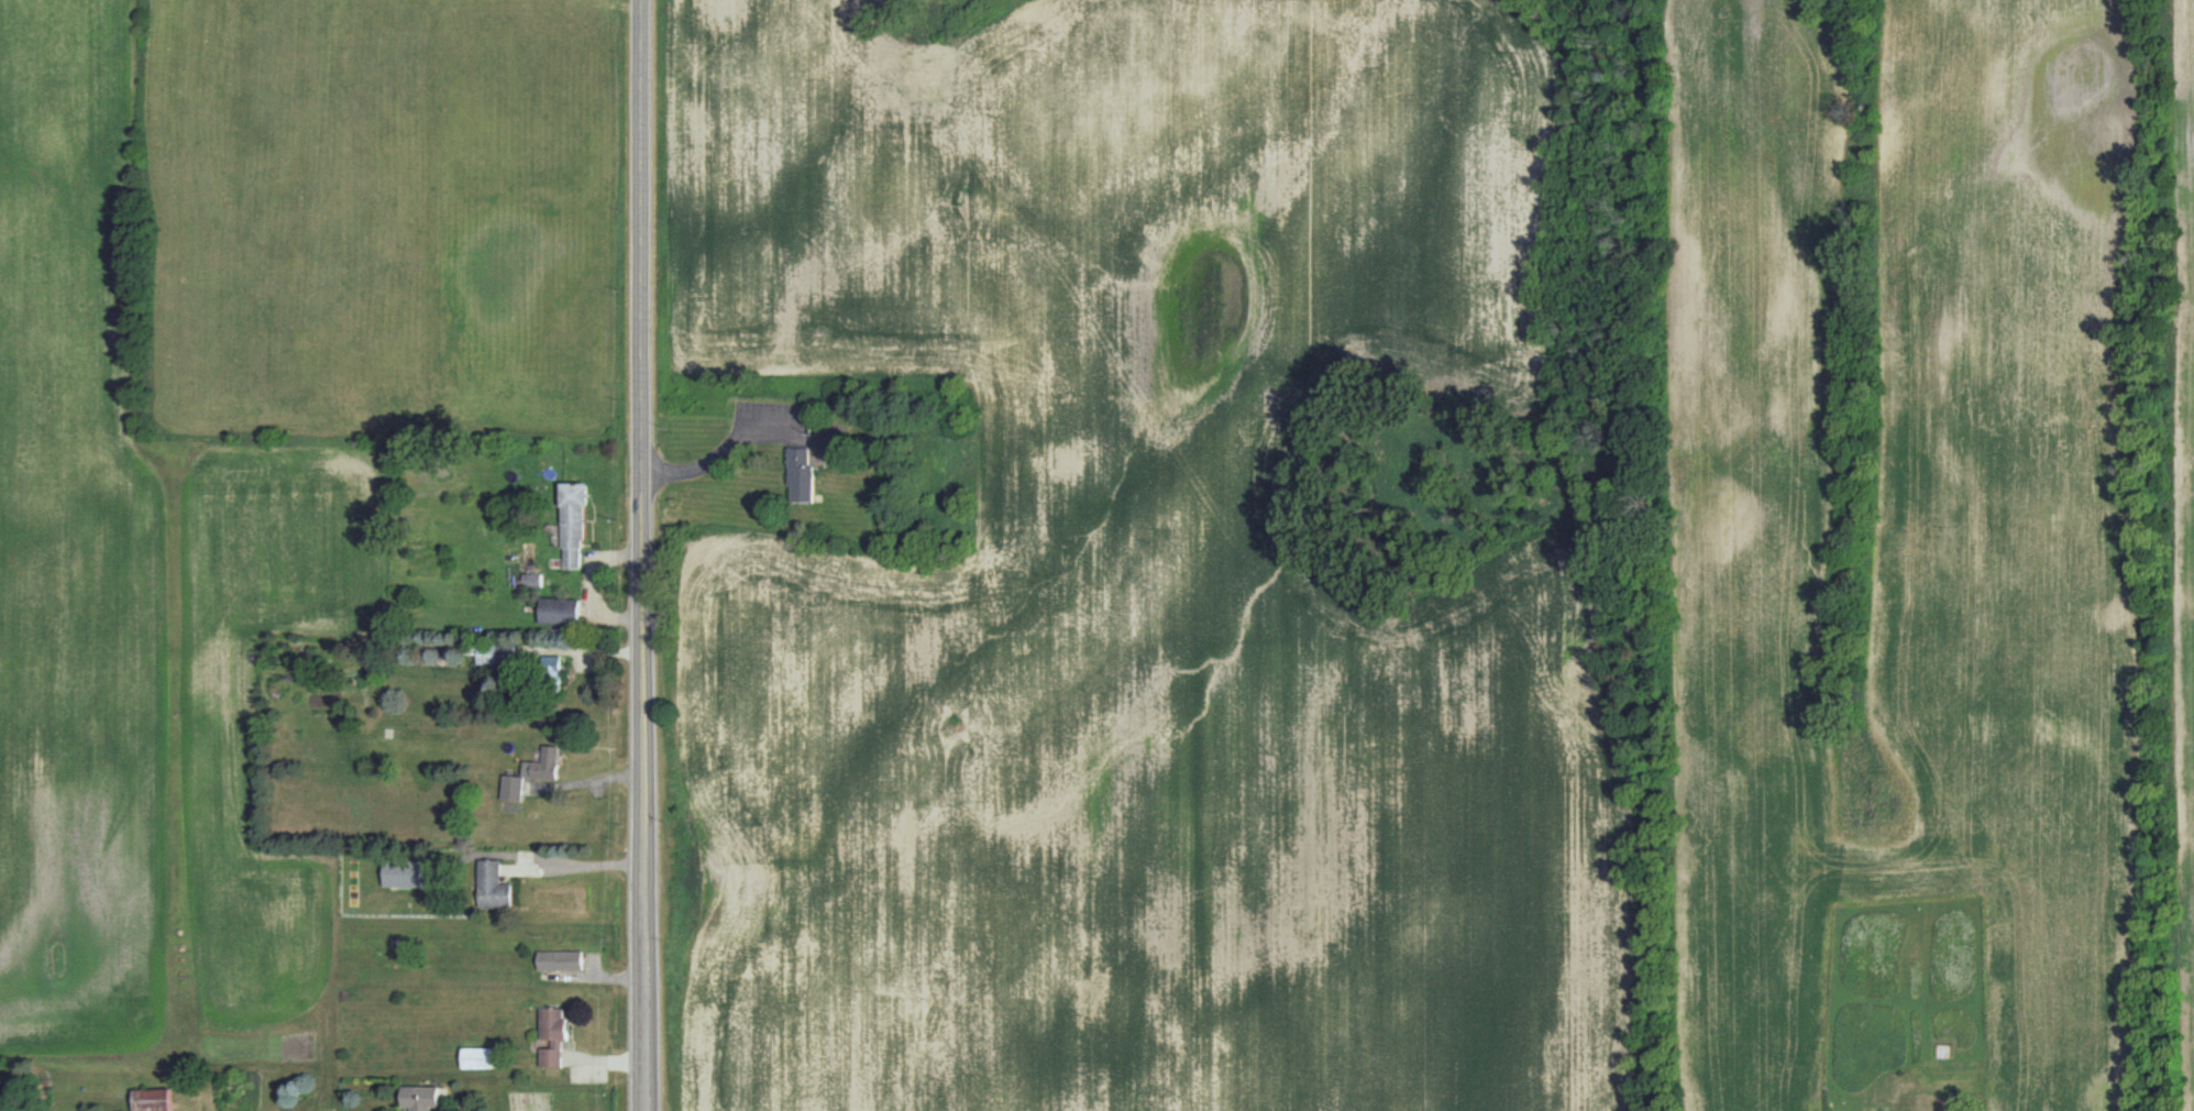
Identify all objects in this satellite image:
road: (723, 448)
building: (801, 473)
crop: (2183, 505)
building: (572, 524)
crop: (1898, 526)
road: (647, 554)
crop: (78, 555)
building: (531, 580)
road: (592, 586)
building: (559, 610)
road: (581, 651)
building: (496, 653)
building: (551, 670)
building: (543, 763)
building: (512, 787)
road: (586, 864)
building: (404, 873)
building: (494, 884)
building: (561, 959)
building: (554, 1035)
building: (478, 1057)
building: (420, 1097)
building: (154, 1099)

